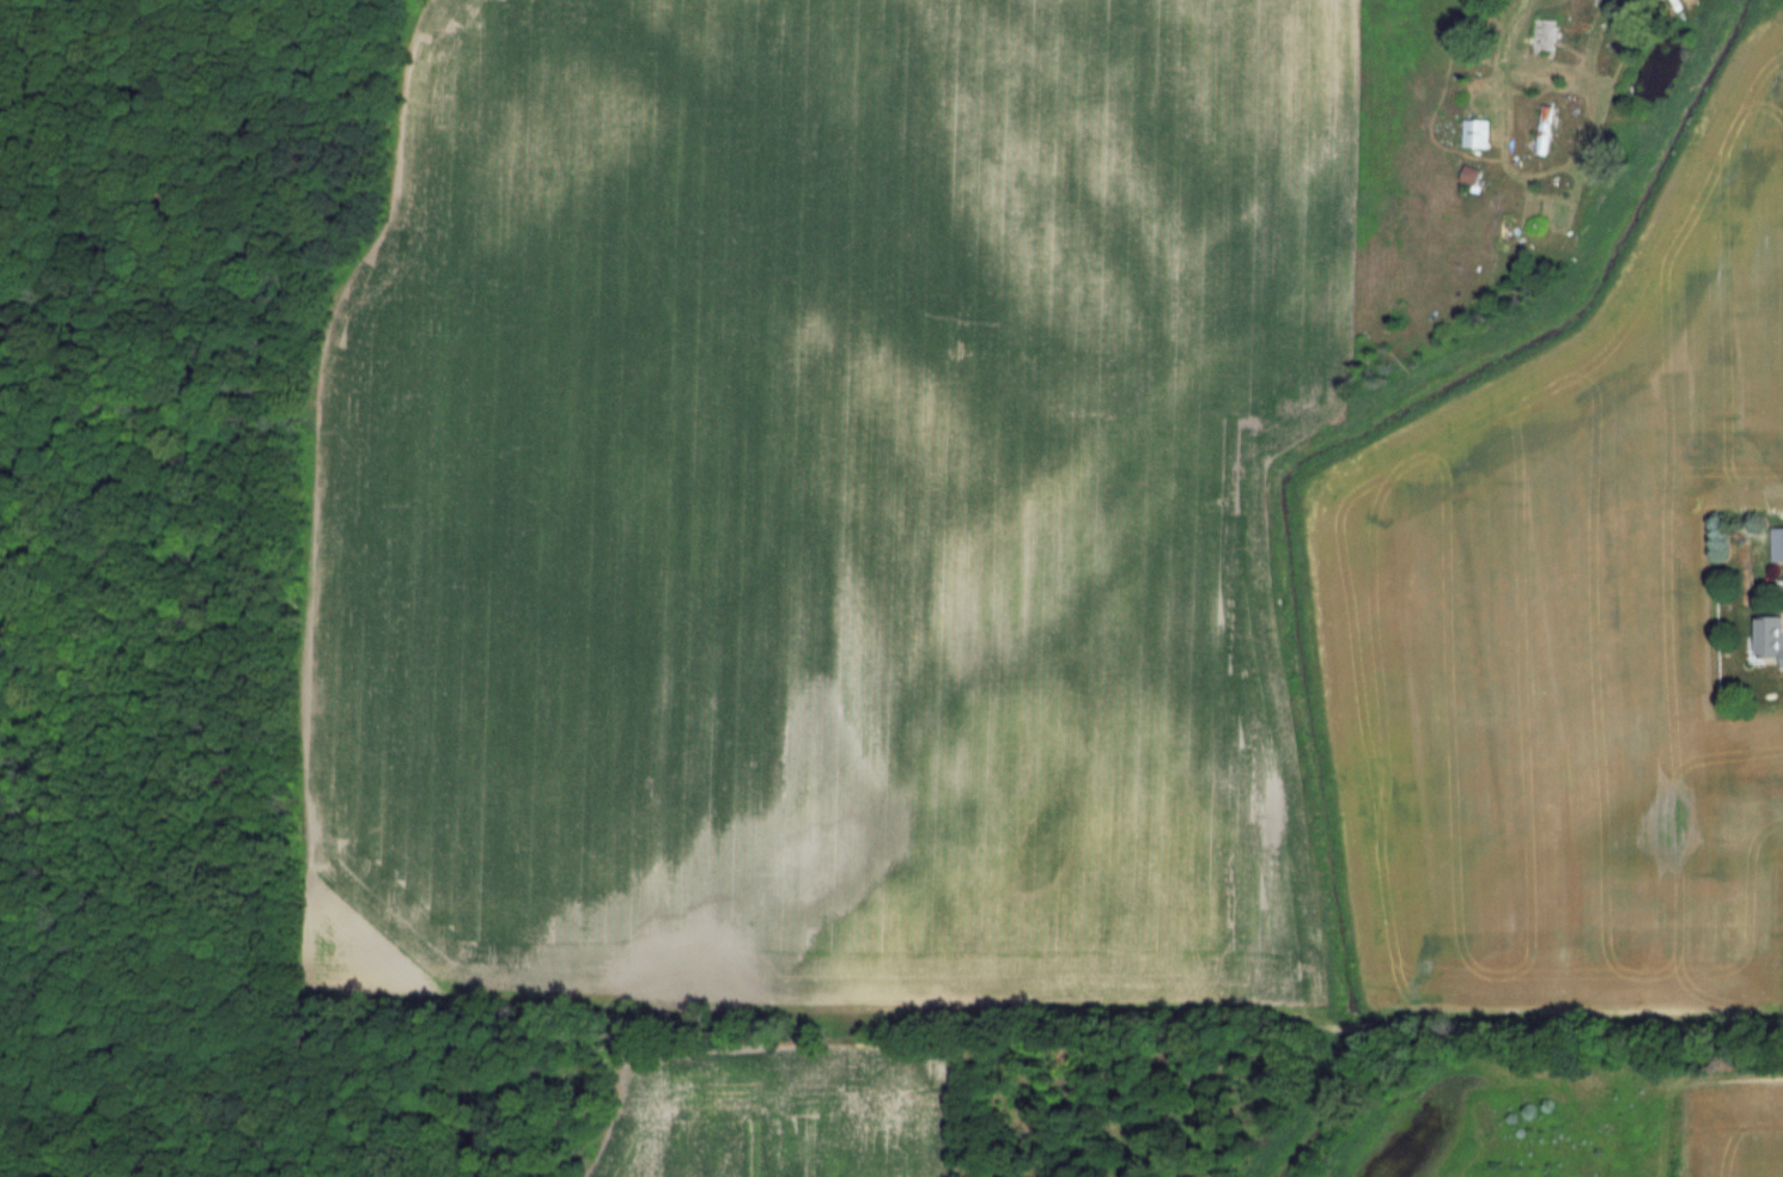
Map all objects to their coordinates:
road: (1510, 11)
building: (1544, 36)
building: (1542, 130)
building: (1475, 133)
building: (1471, 175)
building: (1777, 543)
building: (1771, 636)

